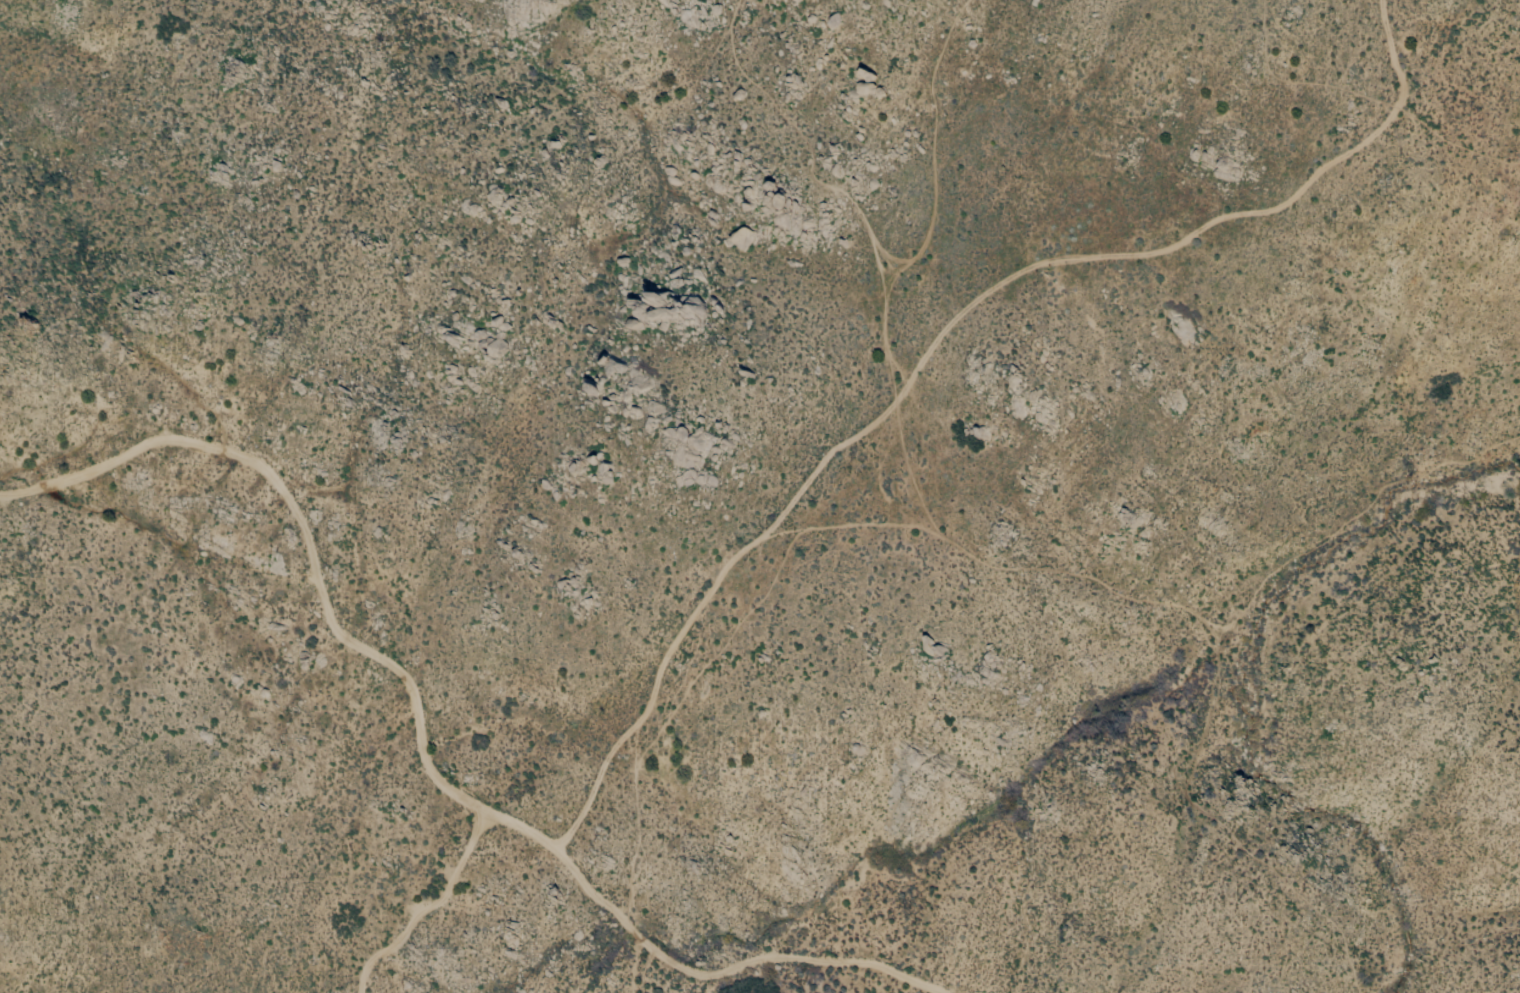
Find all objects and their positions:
road: (456, 739)

